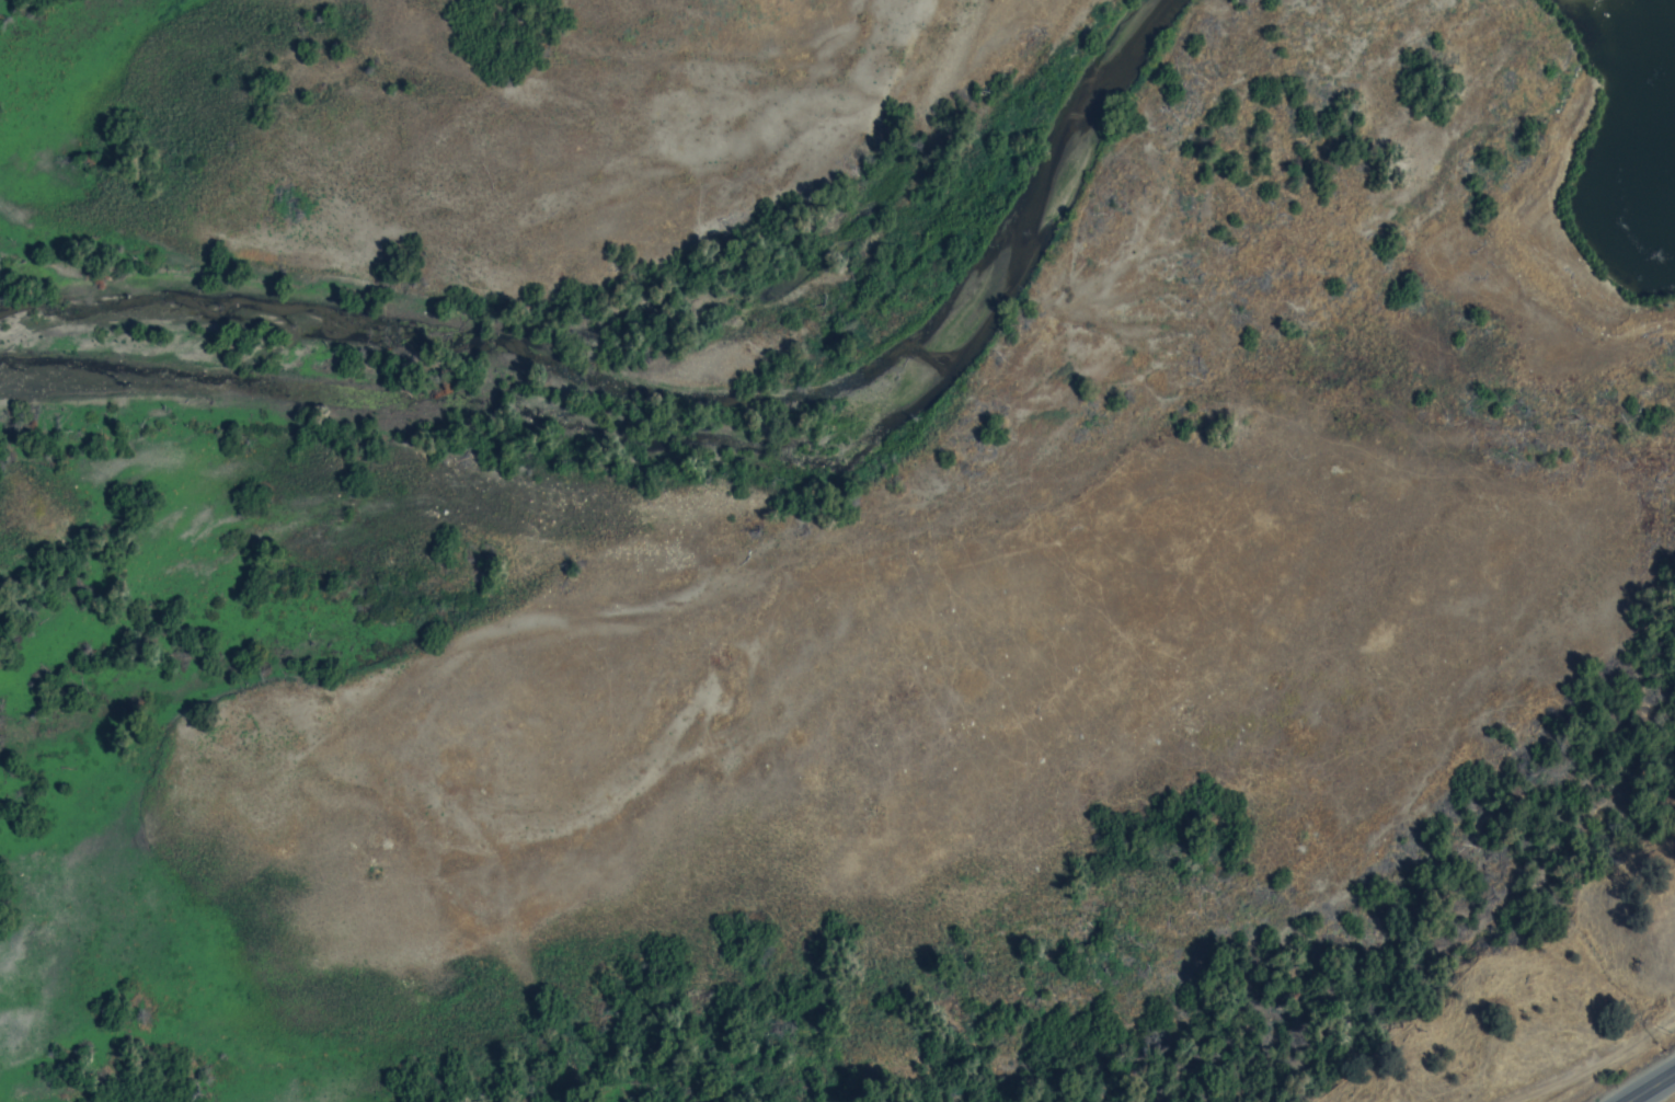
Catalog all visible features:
river: (672, 434)
crop: (1579, 1014)
road: (1610, 1074)
road: (1650, 1087)

